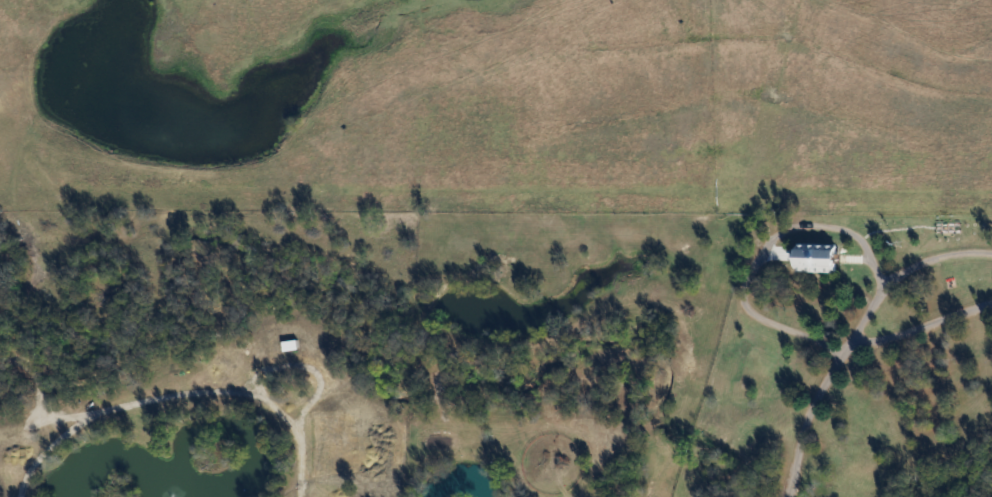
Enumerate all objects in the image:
road: (753, 250)
building: (818, 257)
road: (906, 269)
road: (921, 324)
road: (807, 414)

